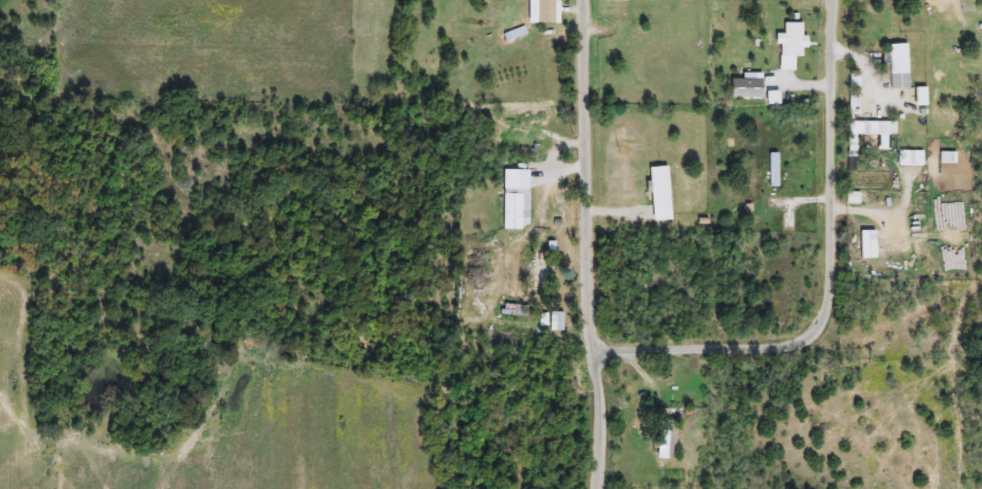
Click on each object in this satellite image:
building: (789, 5)
building: (613, 8)
building: (629, 34)
building: (791, 46)
building: (896, 66)
building: (870, 131)
building: (907, 158)
building: (771, 170)
building: (655, 185)
road: (584, 245)
building: (533, 276)
road: (829, 282)
building: (664, 440)

